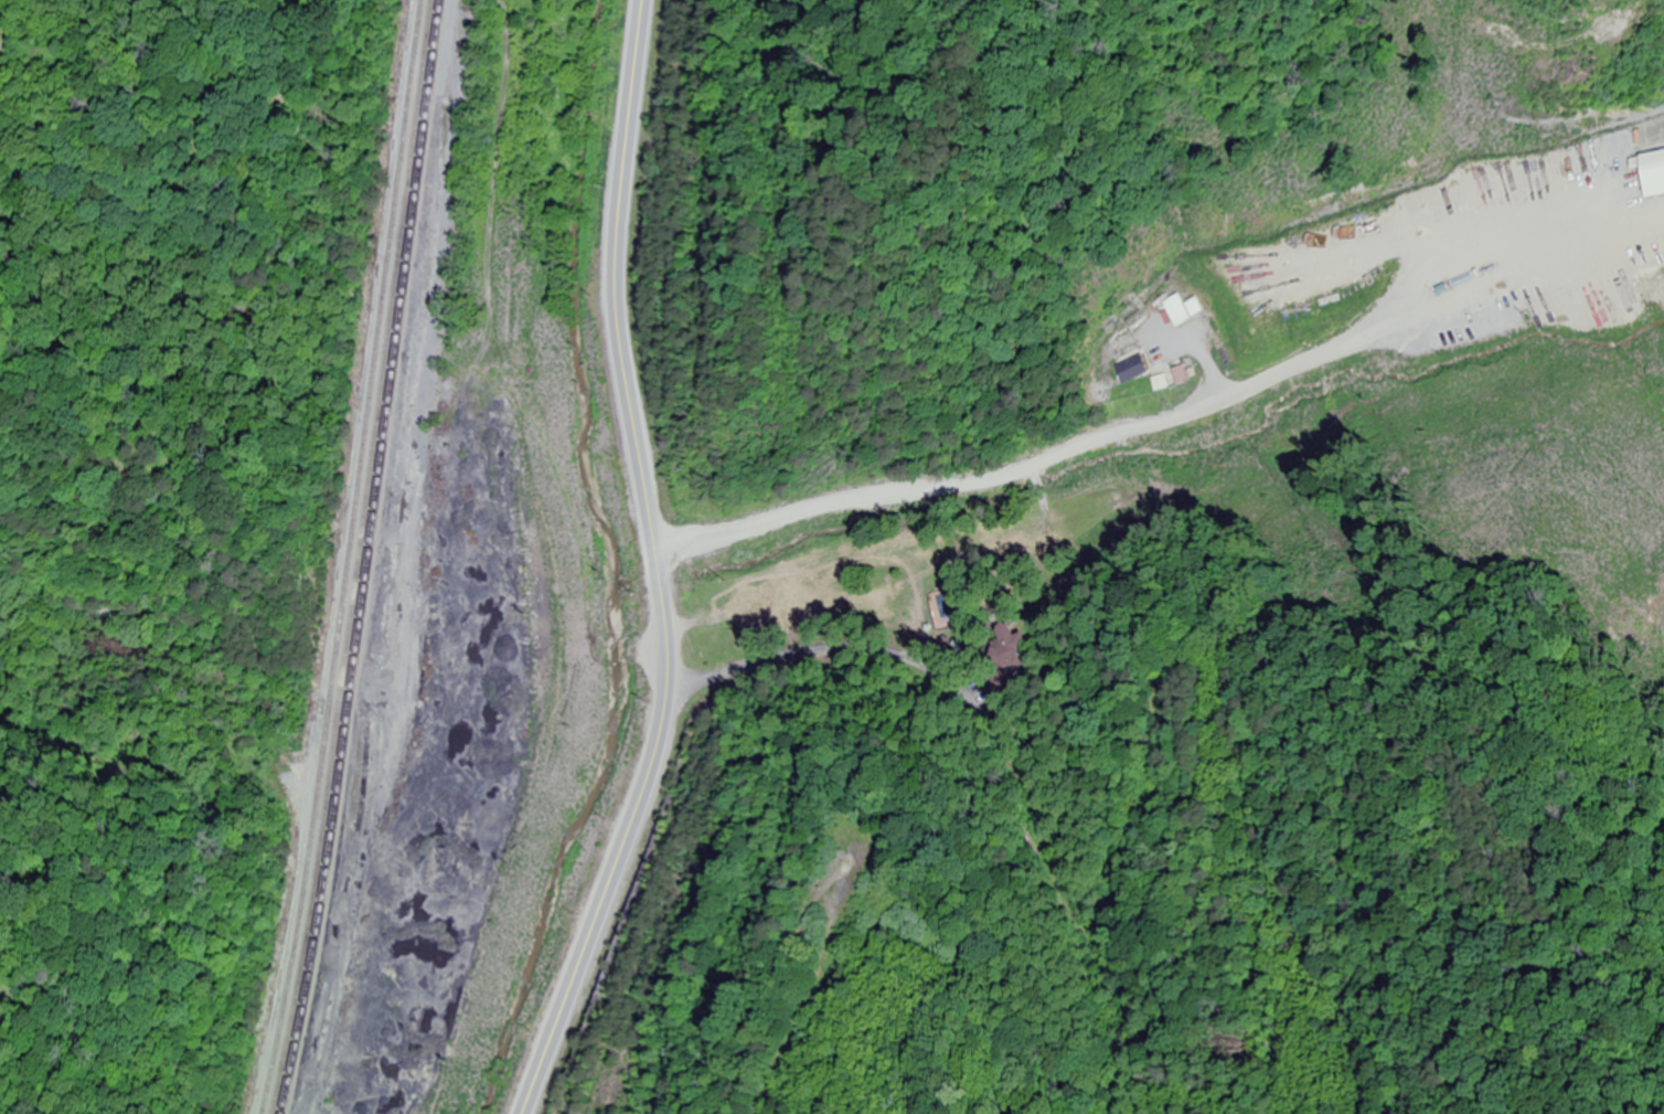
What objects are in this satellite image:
building: (1652, 150)
building: (1180, 311)
building: (1131, 365)
building: (1100, 393)
road: (1166, 420)
railway: (418, 495)
railway: (404, 529)
railway: (349, 558)
railway: (358, 558)
railway: (369, 558)
railway: (380, 558)
road: (657, 566)
railway: (382, 607)
building: (1011, 649)
railway: (318, 1090)

